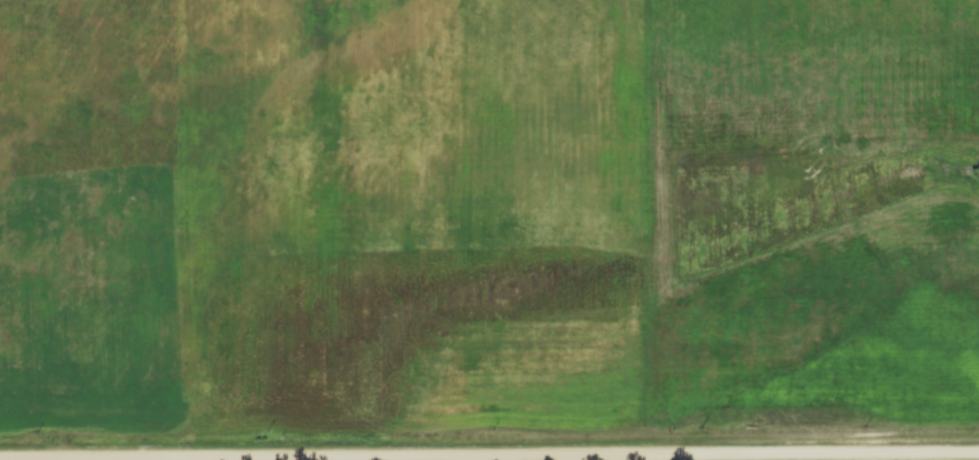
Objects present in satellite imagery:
road: (489, 458)

